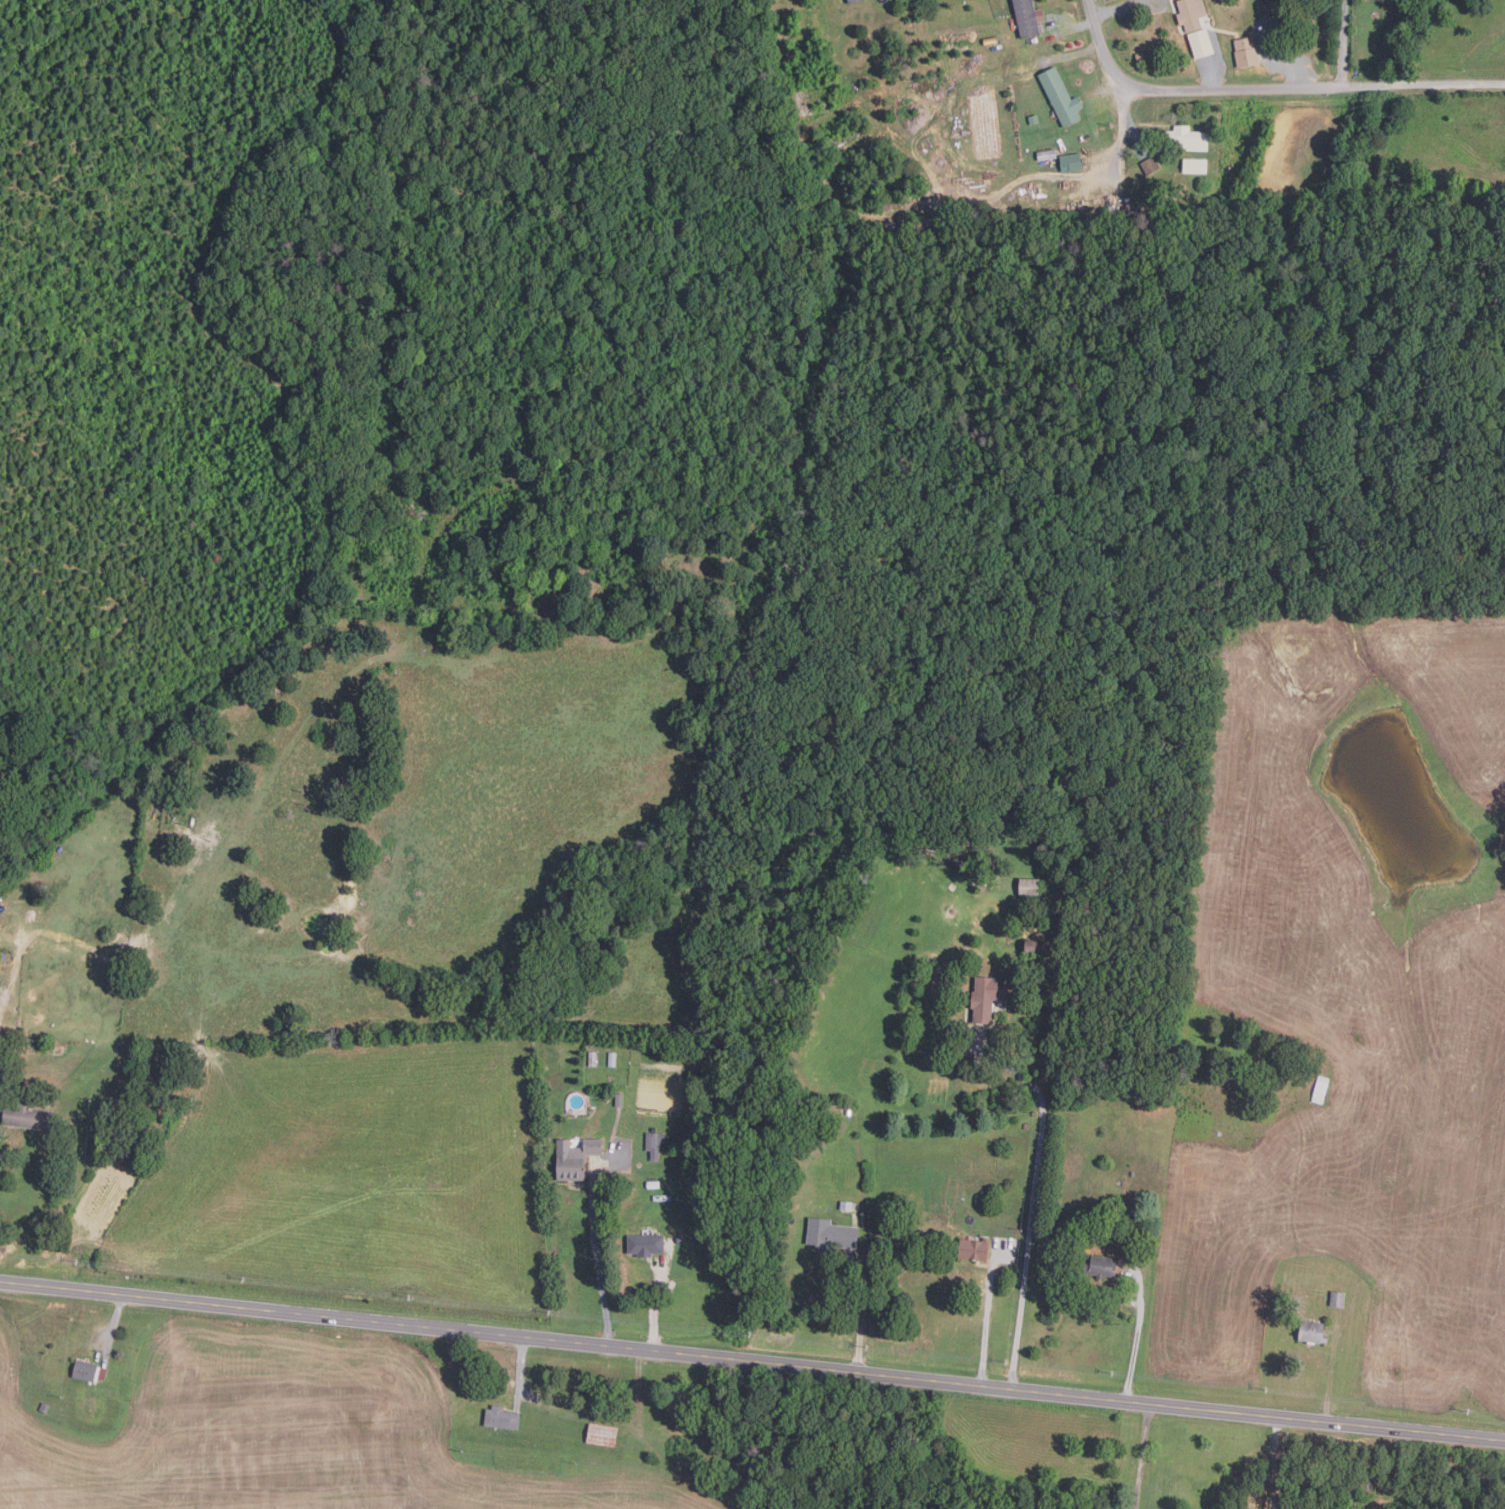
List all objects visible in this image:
building: (852, 1)
building: (1271, 6)
building: (1190, 13)
building: (1026, 18)
road: (1074, 26)
building: (989, 41)
road: (1342, 42)
building: (1200, 44)
building: (1246, 51)
building: (1139, 57)
road: (1269, 89)
building: (1060, 97)
building: (1033, 120)
road: (1123, 126)
building: (1187, 139)
building: (1046, 155)
building: (1069, 165)
building: (1150, 165)
building: (1195, 166)
building: (1103, 211)
building: (1132, 213)
building: (1195, 215)
building: (1163, 218)
building: (1012, 225)
building: (1026, 225)
building: (935, 226)
building: (890, 238)
building: (990, 878)
building: (1029, 887)
building: (1062, 906)
building: (7, 935)
building: (1035, 947)
building: (988, 997)
building: (593, 1058)
building: (612, 1059)
building: (1321, 1089)
building: (619, 1100)
building: (29, 1116)
building: (654, 1143)
building: (574, 1158)
building: (653, 1184)
building: (846, 1206)
road: (1032, 1210)
building: (831, 1235)
building: (679, 1240)
building: (644, 1245)
building: (974, 1249)
building: (1134, 1259)
road: (597, 1261)
building: (1100, 1267)
road: (654, 1297)
building: (1338, 1299)
road: (862, 1312)
road: (113, 1325)
road: (986, 1325)
building: (1313, 1333)
road: (1135, 1347)
road: (752, 1360)
road: (520, 1370)
building: (90, 1371)
building: (46, 1407)
building: (500, 1418)
building: (600, 1435)
road: (1143, 1456)
road: (1276, 1462)

